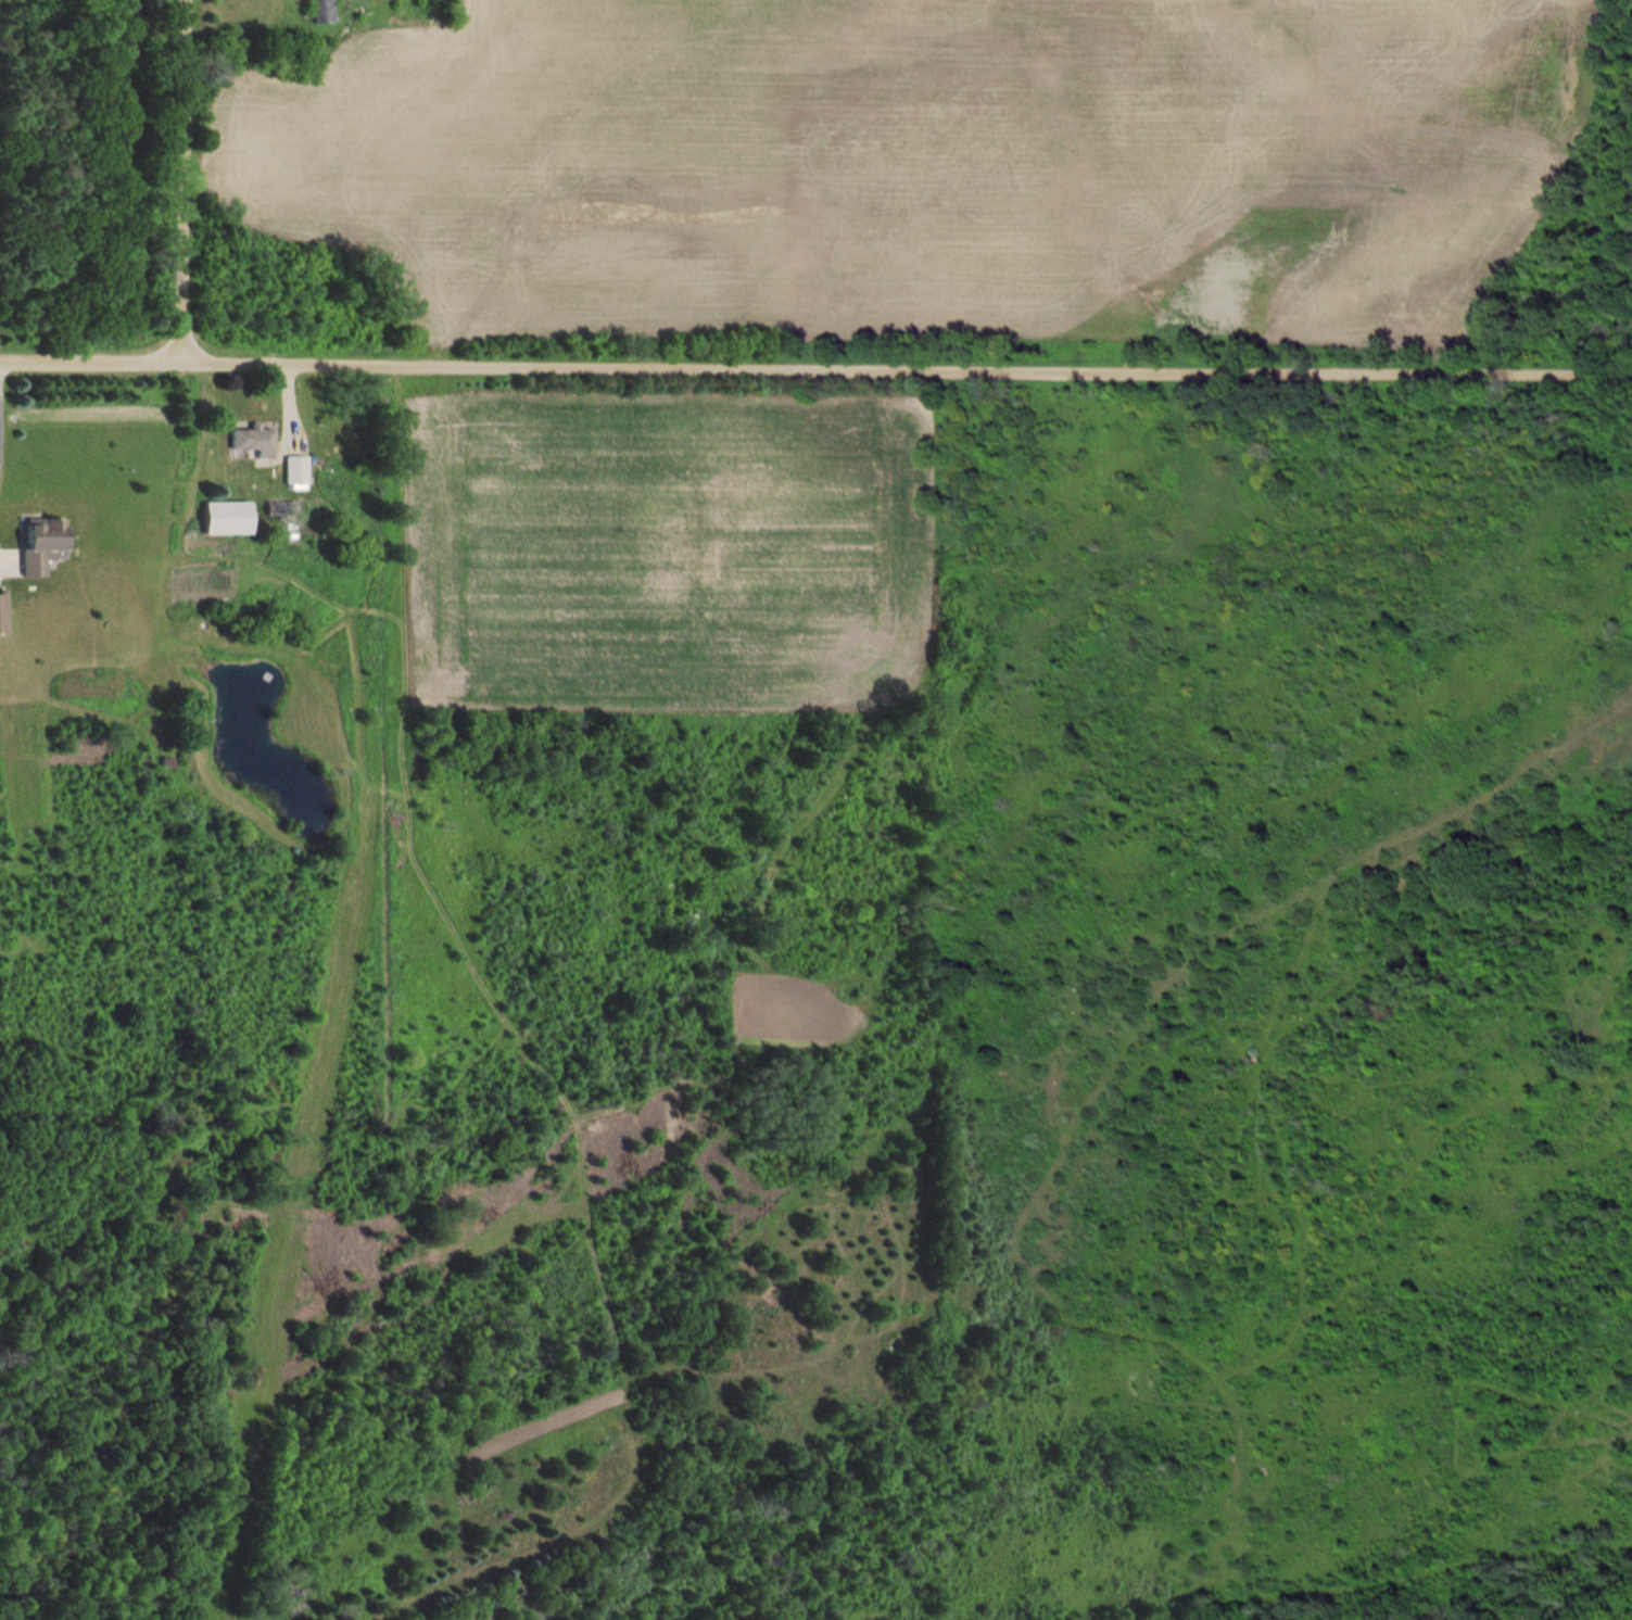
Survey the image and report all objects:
building: (318, 11)
road: (185, 181)
road: (815, 368)
building: (254, 442)
building: (296, 471)
building: (228, 519)
building: (42, 545)
building: (3, 613)

